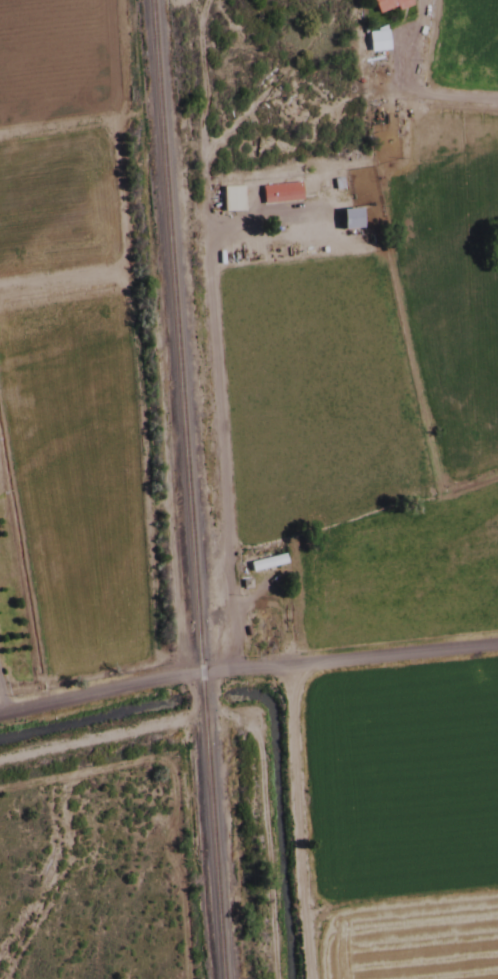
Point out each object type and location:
road: (208, 7)
building: (386, 7)
building: (374, 43)
road: (212, 78)
road: (464, 94)
road: (52, 127)
road: (111, 193)
building: (278, 196)
building: (229, 202)
building: (346, 221)
road: (223, 309)
railway: (184, 489)
building: (263, 566)
road: (247, 669)
road: (309, 822)

